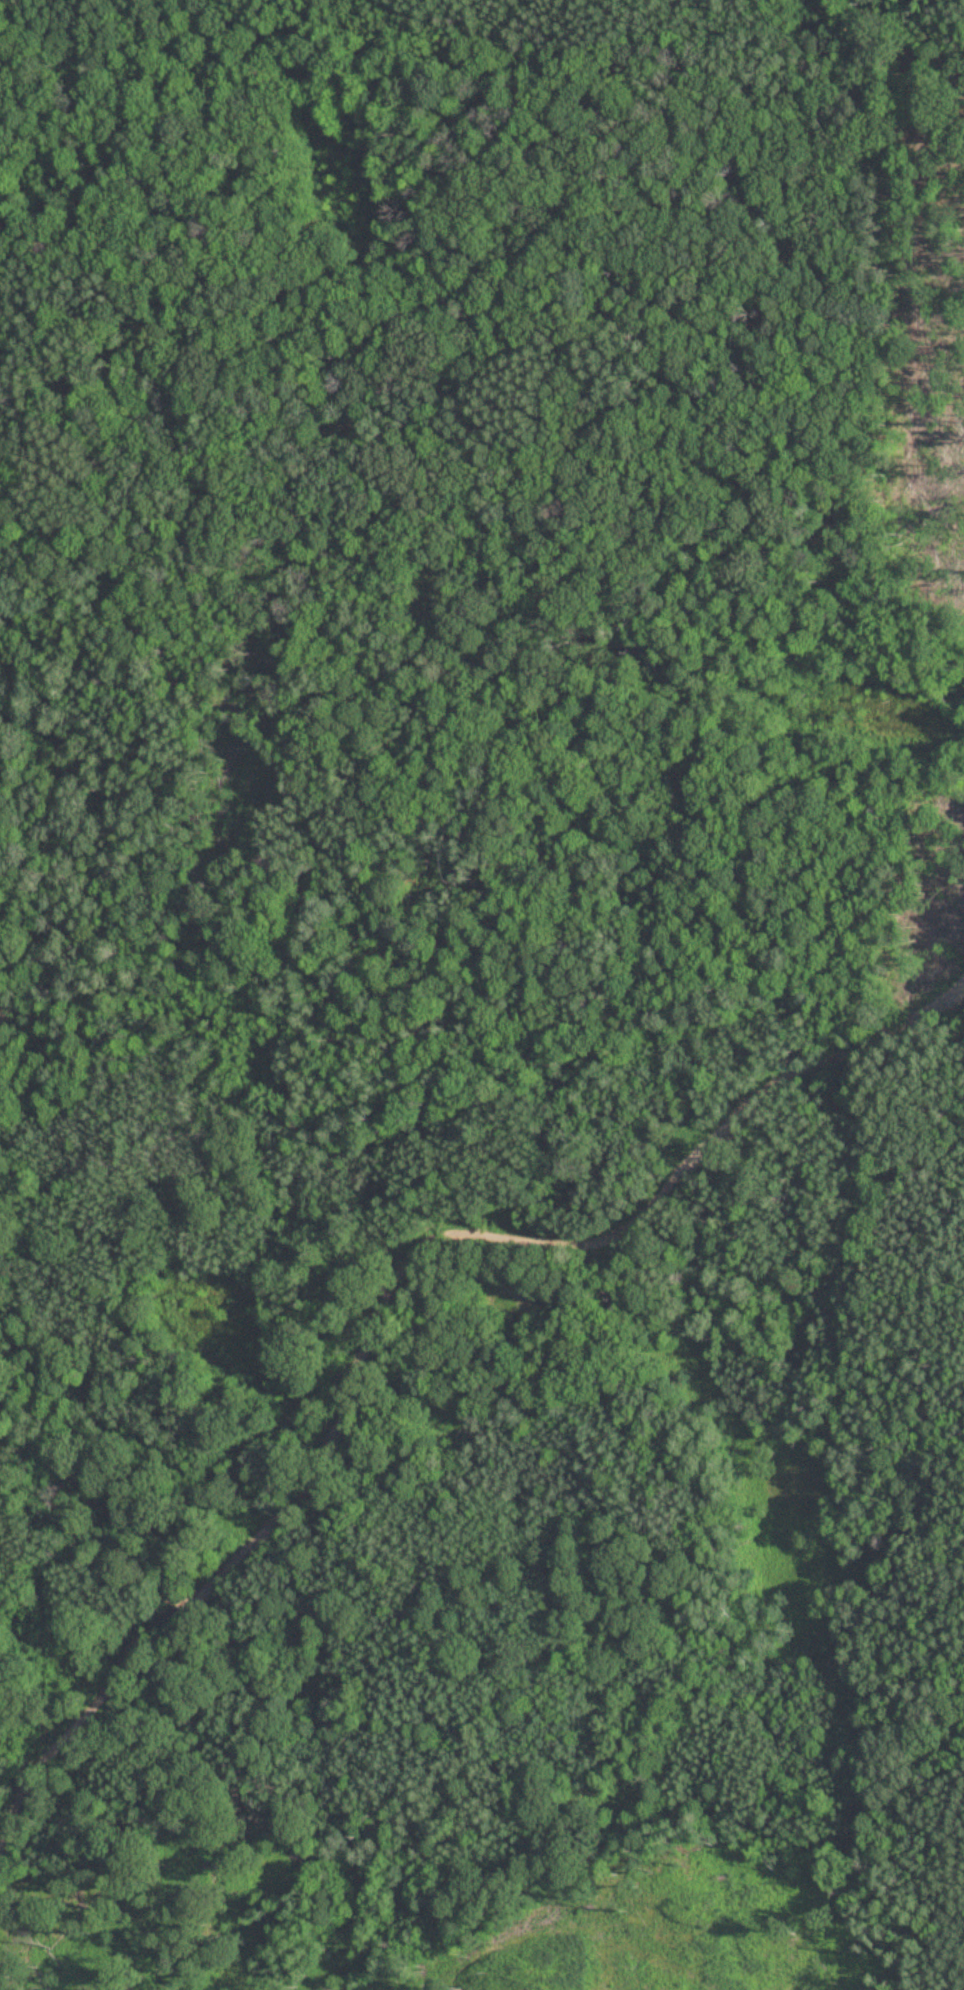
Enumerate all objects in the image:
road: (342, 849)
road: (390, 1298)

